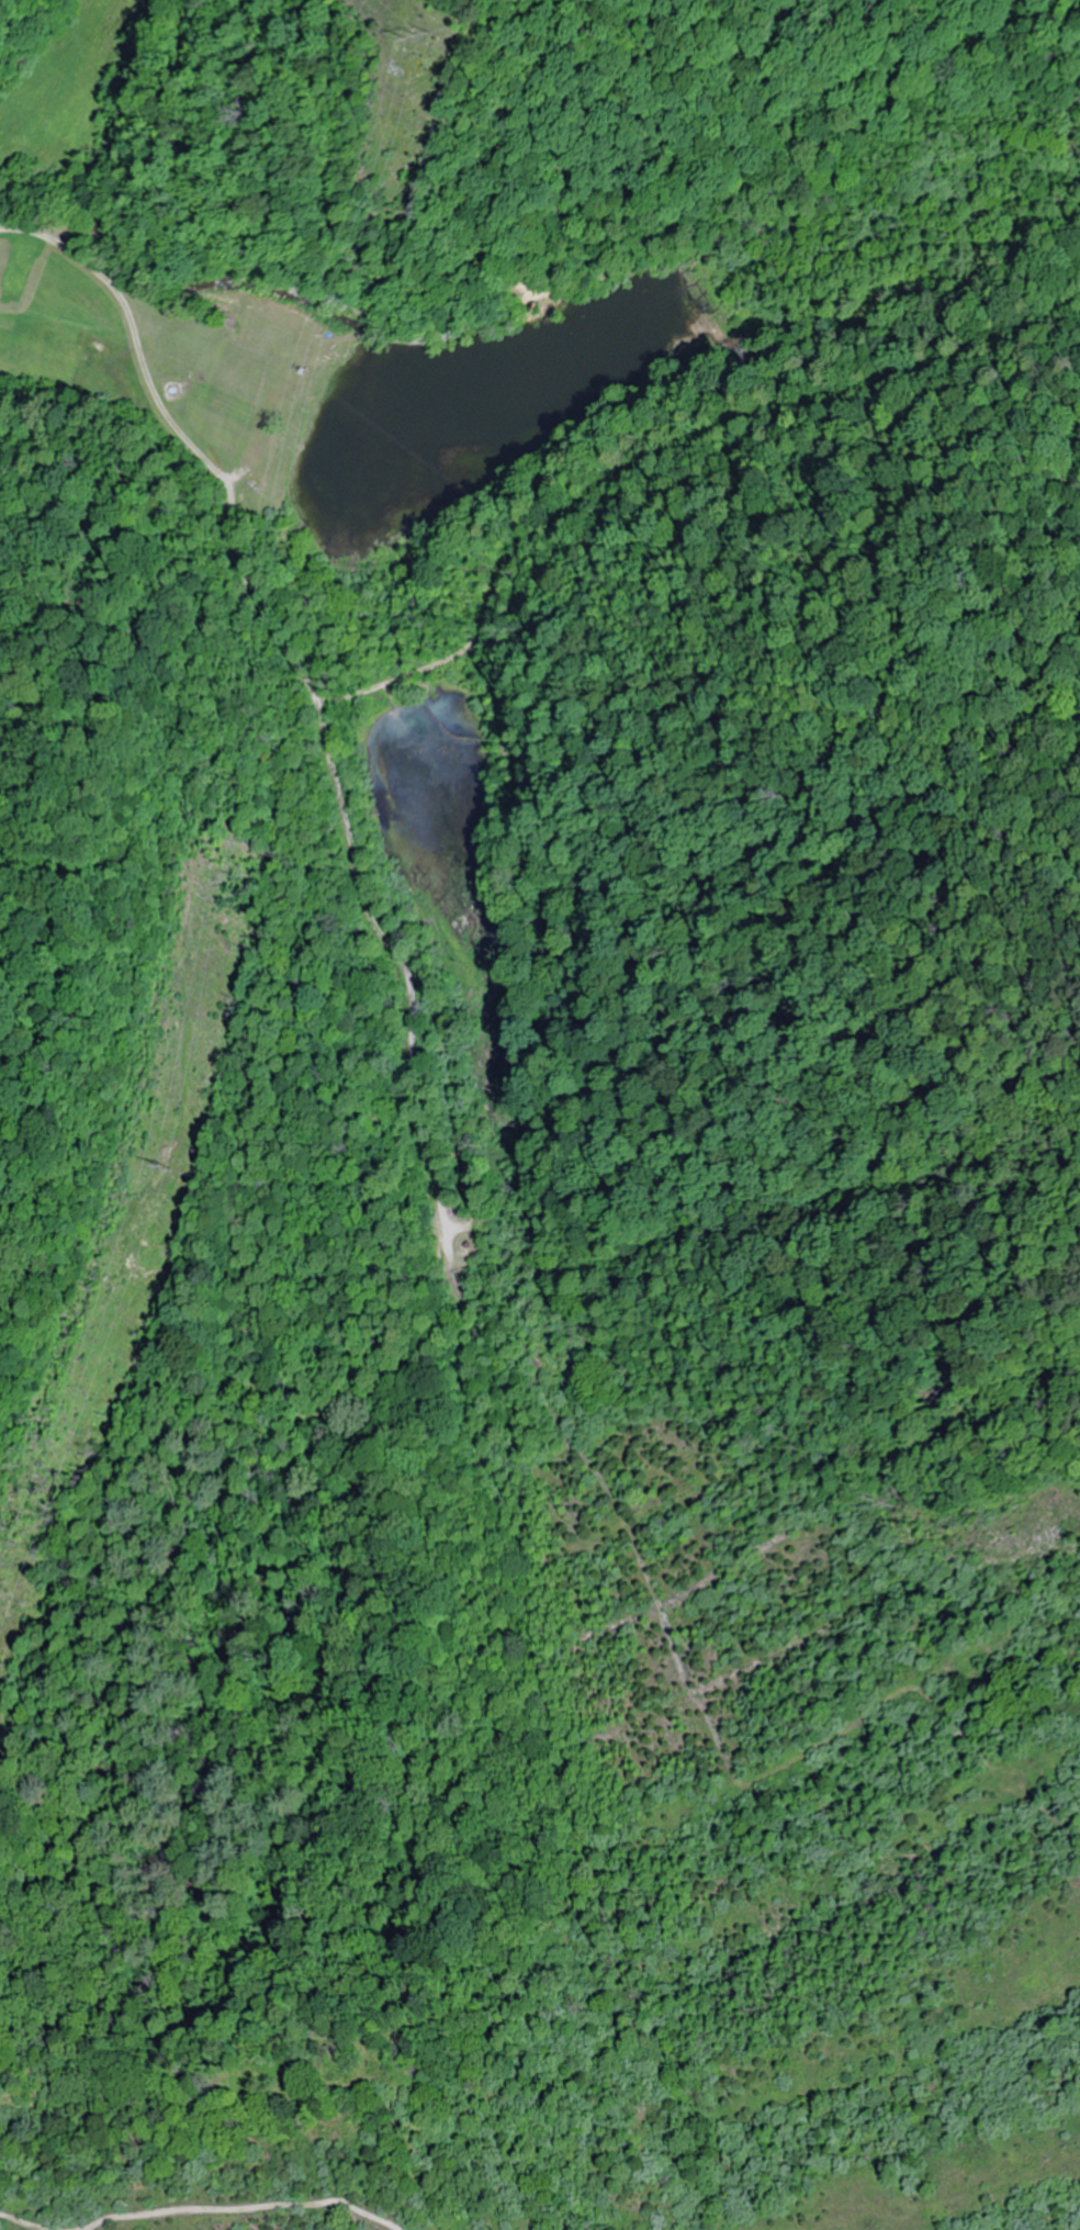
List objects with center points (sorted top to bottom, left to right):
power tower: (421, 37)
power tower: (167, 1167)

